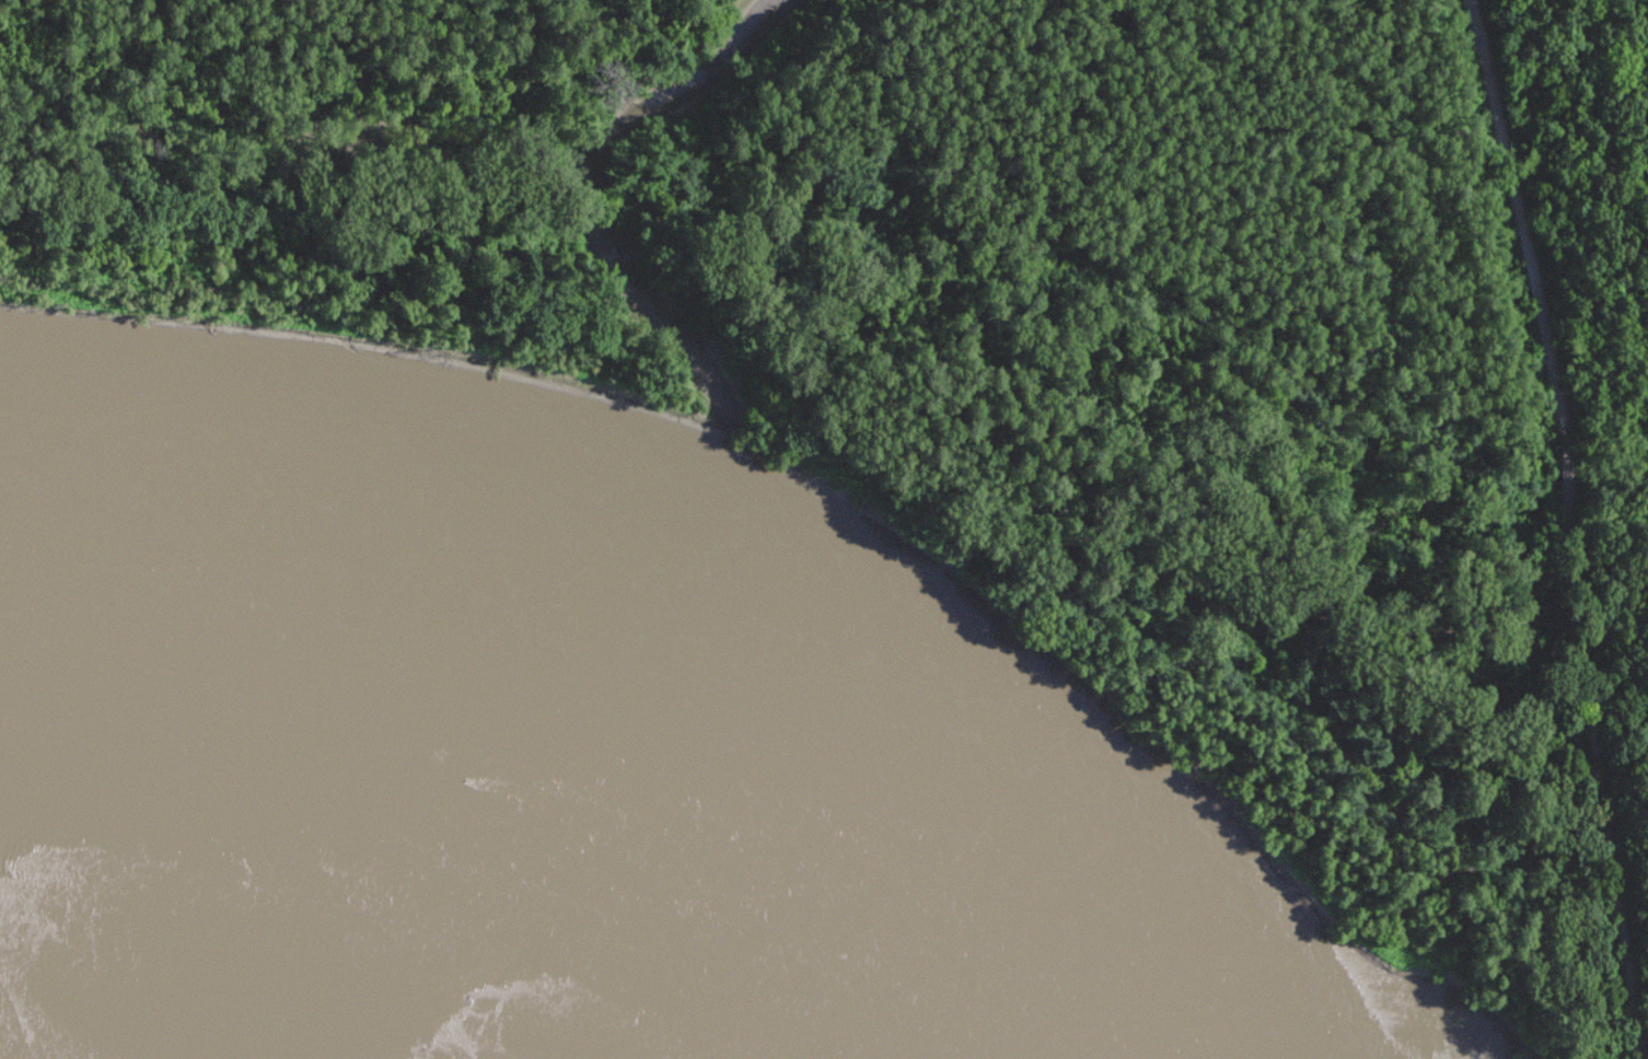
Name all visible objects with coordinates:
road: (1570, 525)
river: (418, 872)

